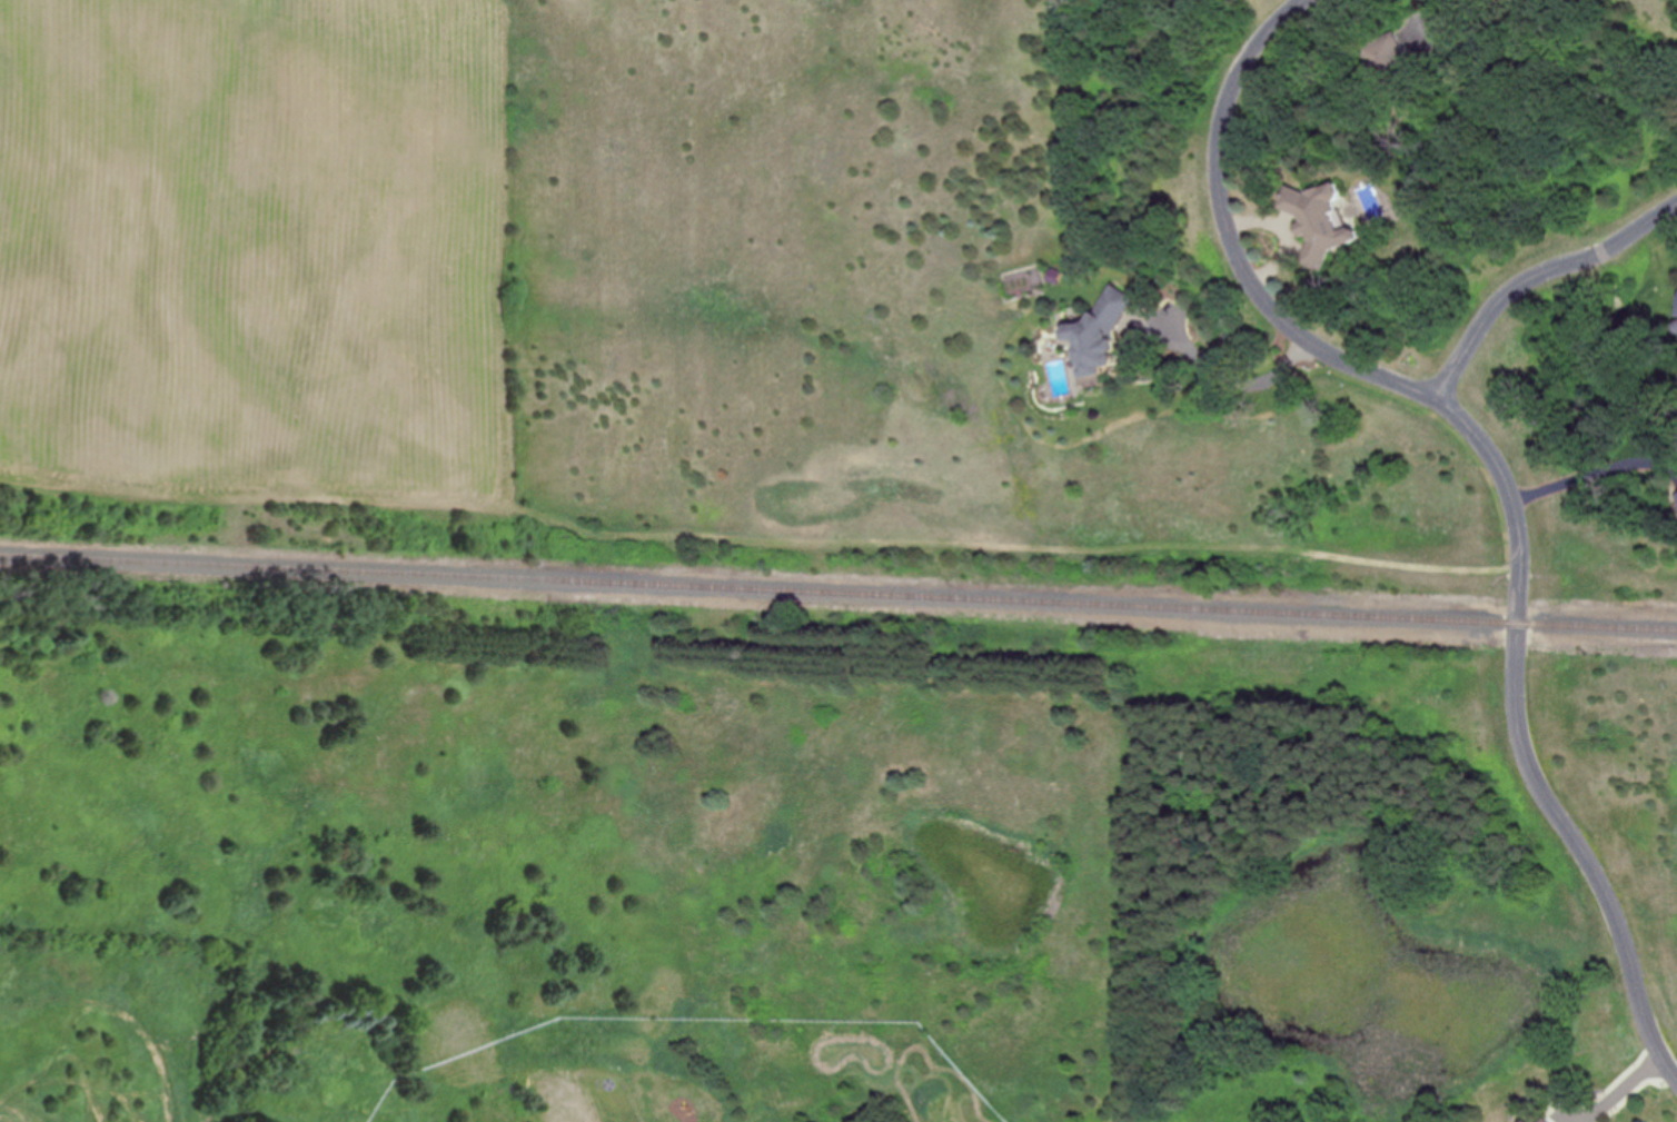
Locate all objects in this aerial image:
building: (1322, 220)
road: (1229, 237)
road: (1536, 282)
building: (1104, 331)
road: (1236, 379)
road: (1592, 471)
road: (1524, 573)
railway: (837, 592)
road: (1619, 919)
road: (1612, 1094)
building: (1547, 1120)

